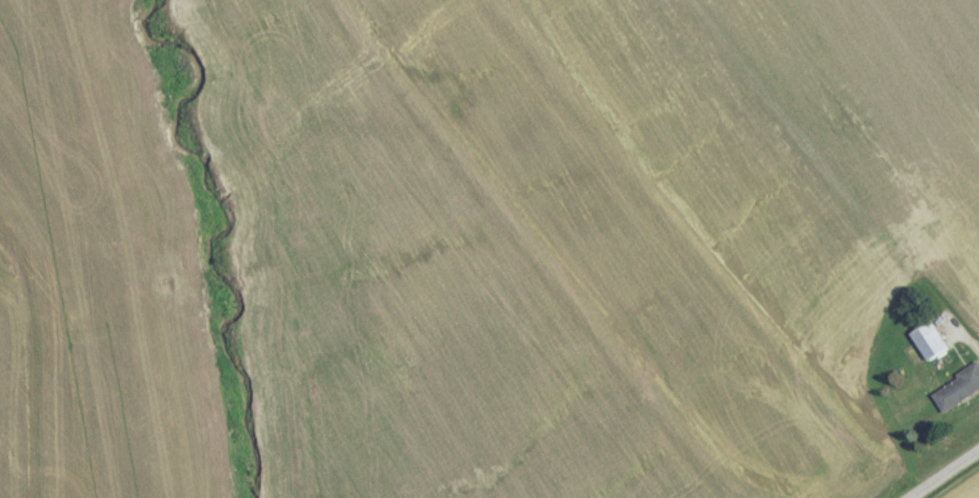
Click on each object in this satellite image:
building: (932, 347)
building: (959, 396)
road: (945, 475)

